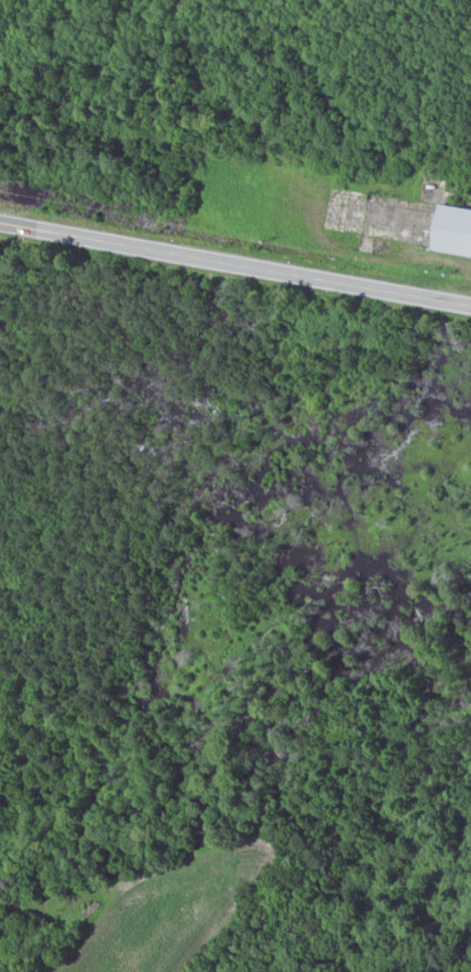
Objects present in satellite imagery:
building: (455, 231)
road: (235, 266)

